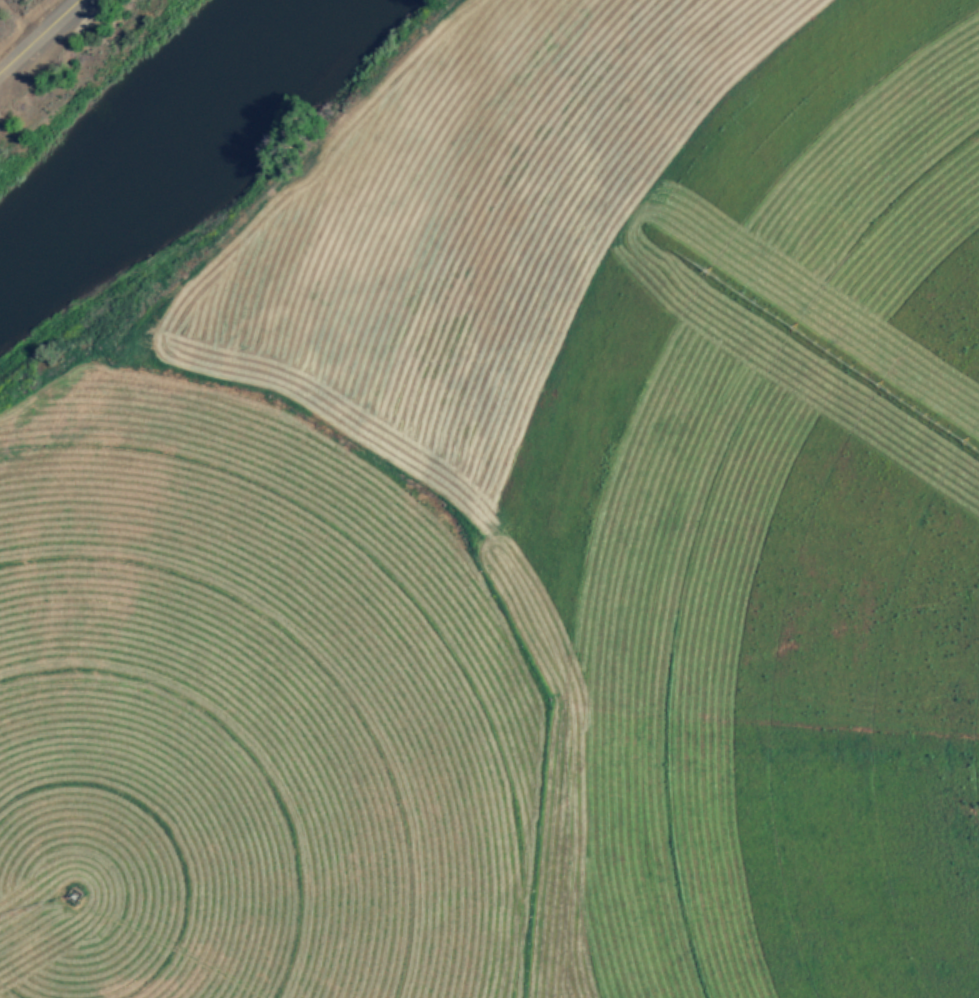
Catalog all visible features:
road: (43, 40)
river: (156, 137)

